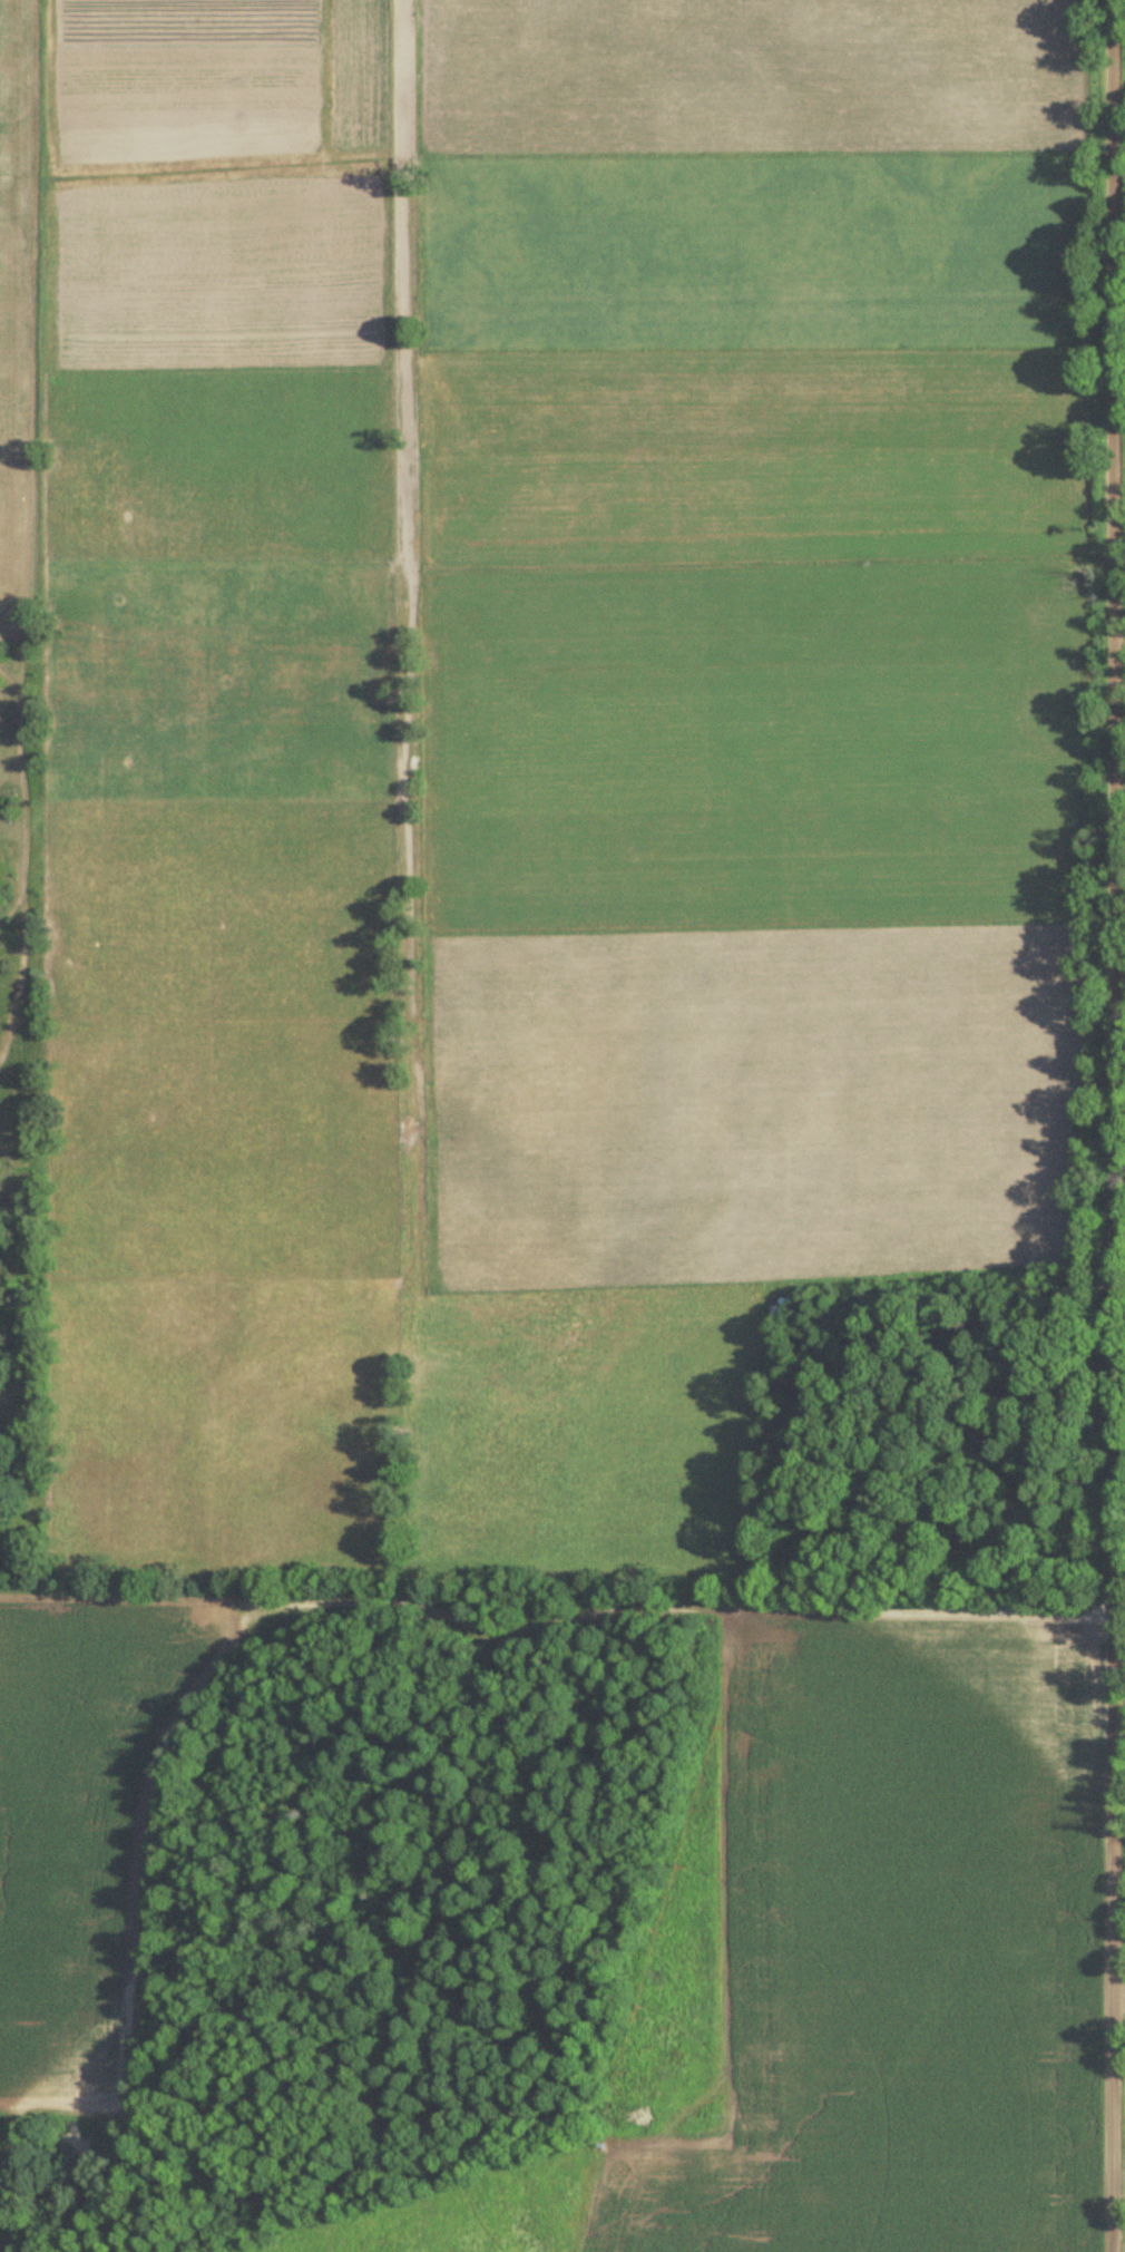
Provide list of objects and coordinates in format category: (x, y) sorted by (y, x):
road: (1115, 1125)

